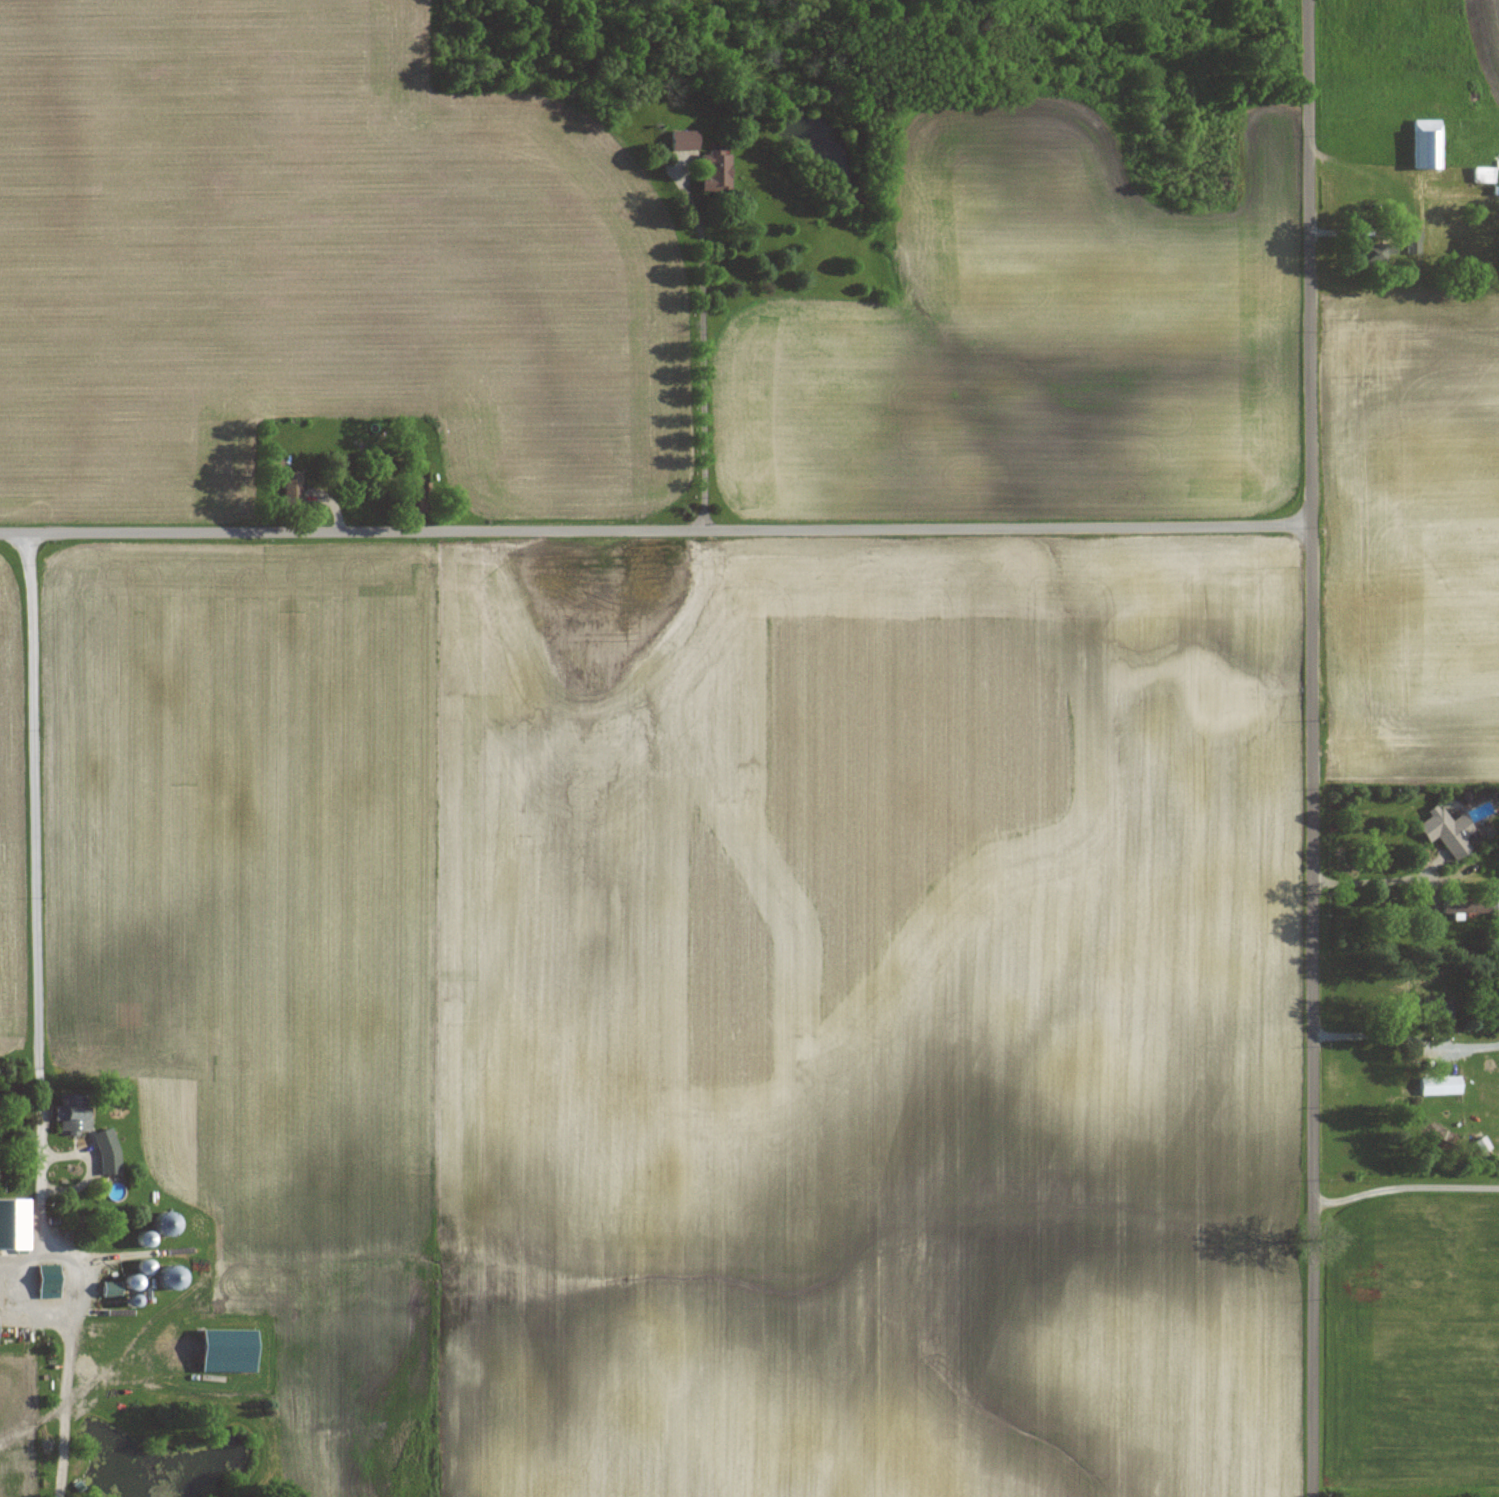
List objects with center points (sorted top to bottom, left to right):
building: (681, 140)
building: (1423, 144)
building: (710, 172)
building: (1480, 174)
building: (1411, 242)
building: (1365, 252)
road: (702, 263)
building: (289, 487)
building: (415, 497)
road: (656, 530)
road: (1312, 748)
building: (1446, 830)
road: (1378, 884)
building: (1496, 908)
building: (1436, 1010)
road: (41, 1021)
road: (1378, 1038)
building: (1438, 1085)
building: (70, 1113)
building: (104, 1151)
road: (1404, 1189)
building: (160, 1224)
building: (9, 1240)
building: (156, 1275)
building: (40, 1278)

